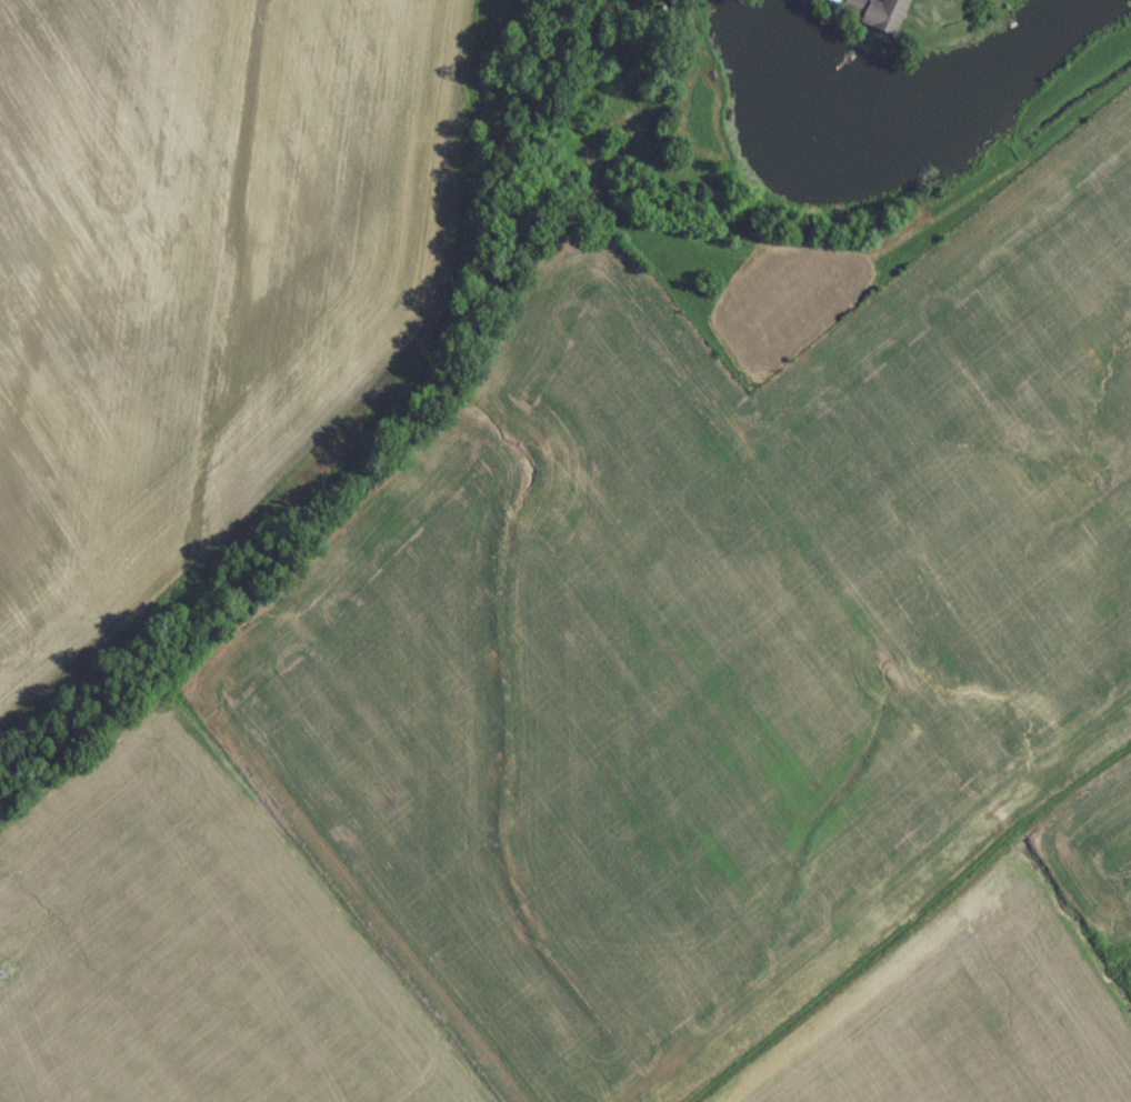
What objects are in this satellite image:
building: (872, 19)

